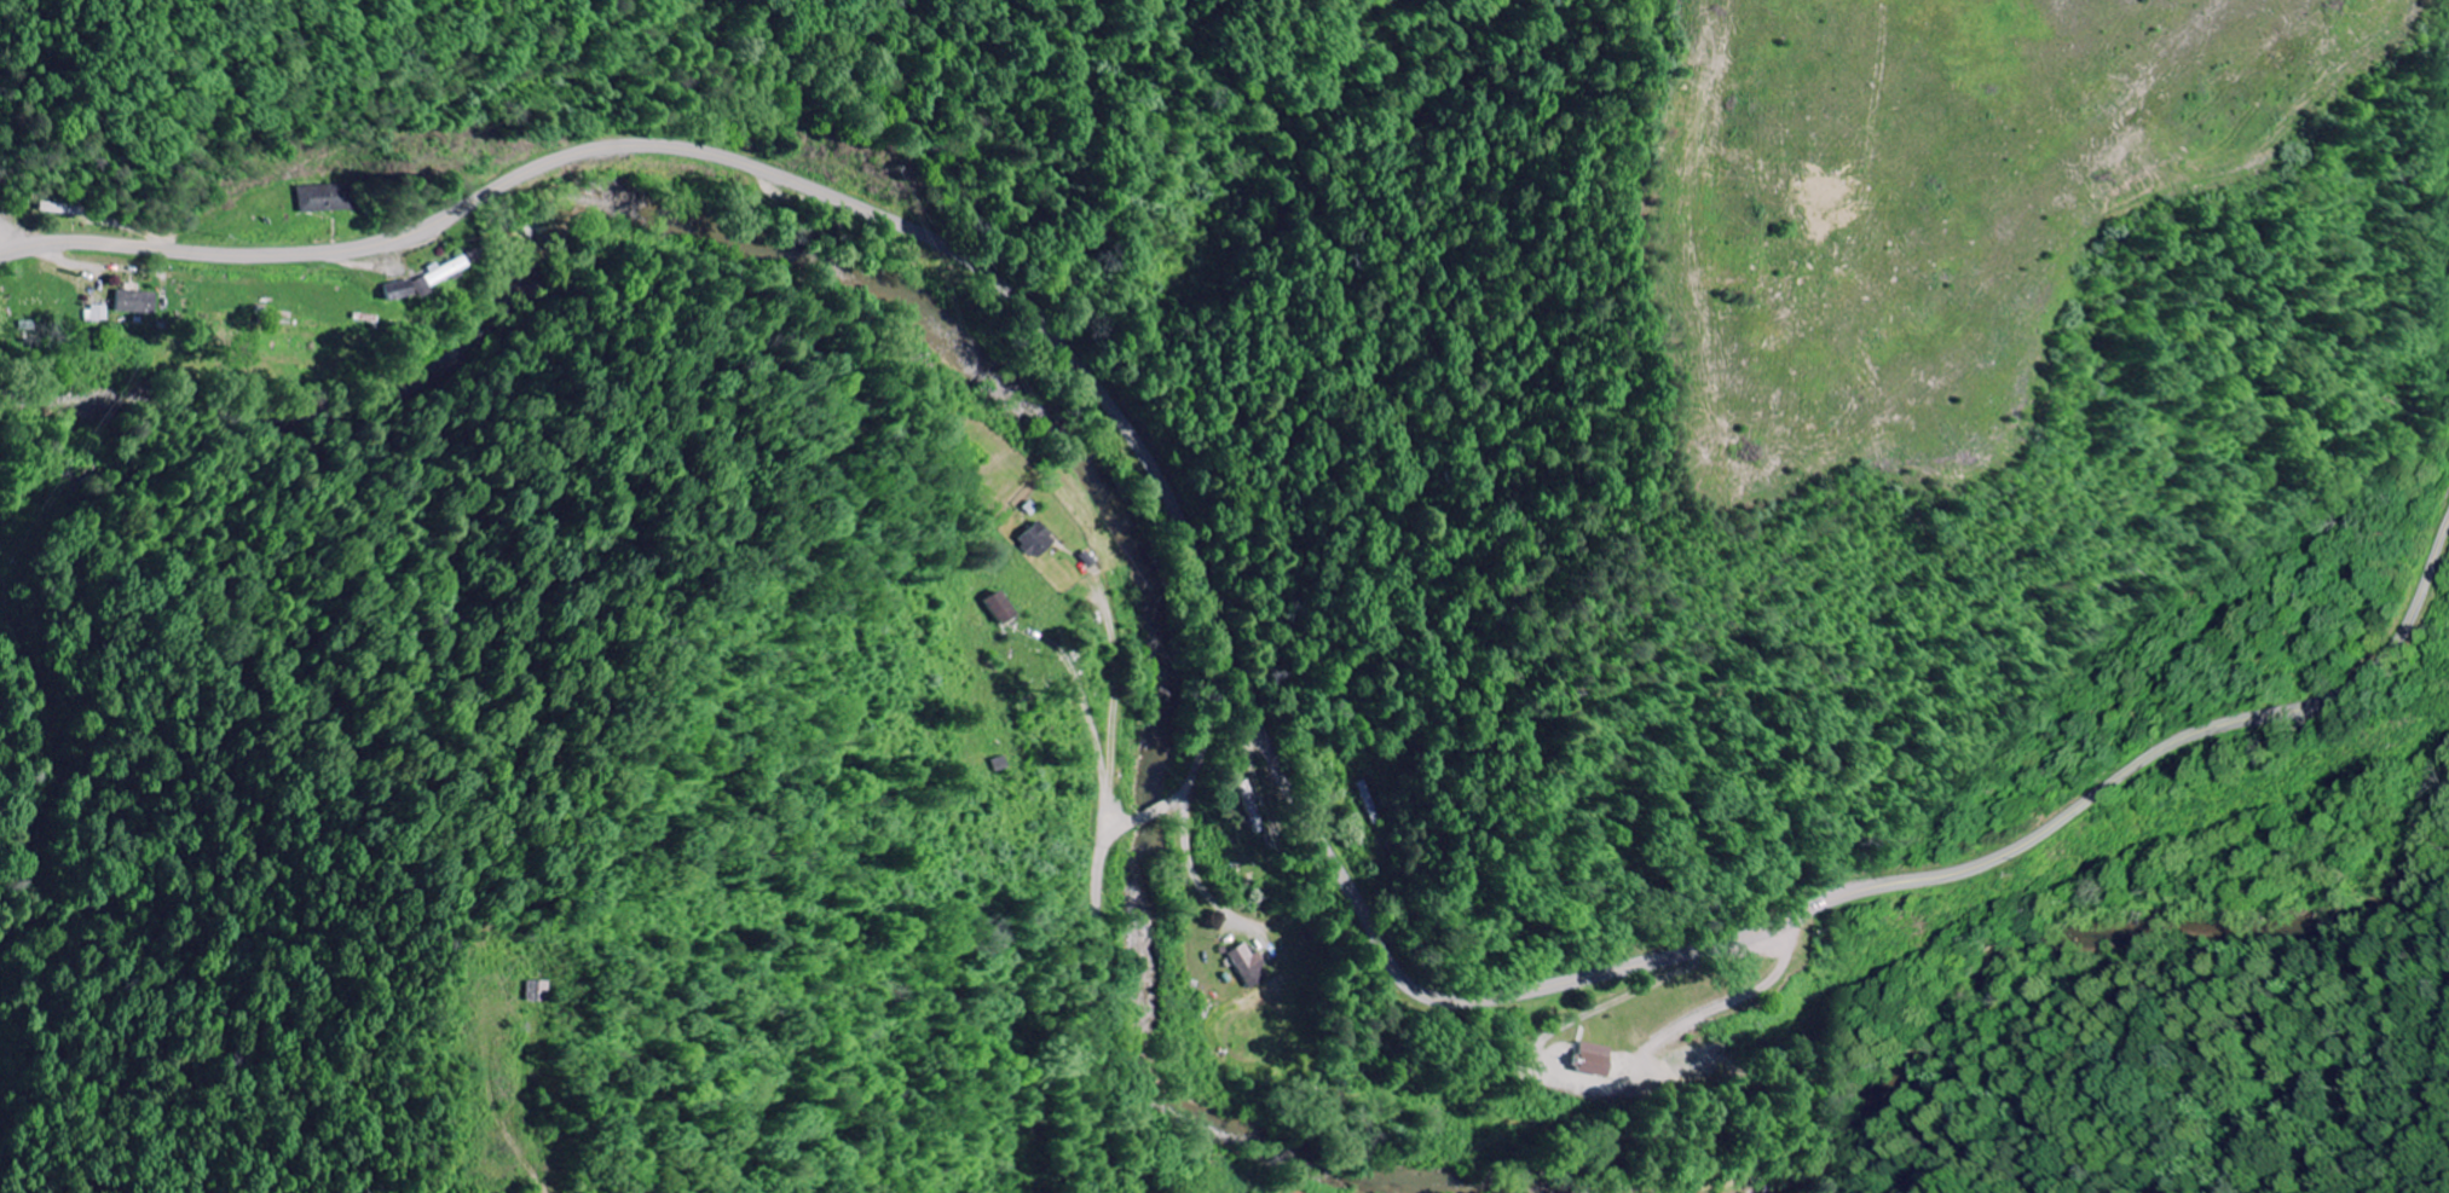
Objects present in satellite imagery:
building: (324, 199)
building: (440, 274)
building: (395, 290)
building: (132, 303)
building: (96, 315)
building: (1035, 540)
building: (995, 608)
road: (1248, 693)
road: (1213, 718)
building: (1246, 967)
road: (1099, 985)
building: (1589, 1061)

